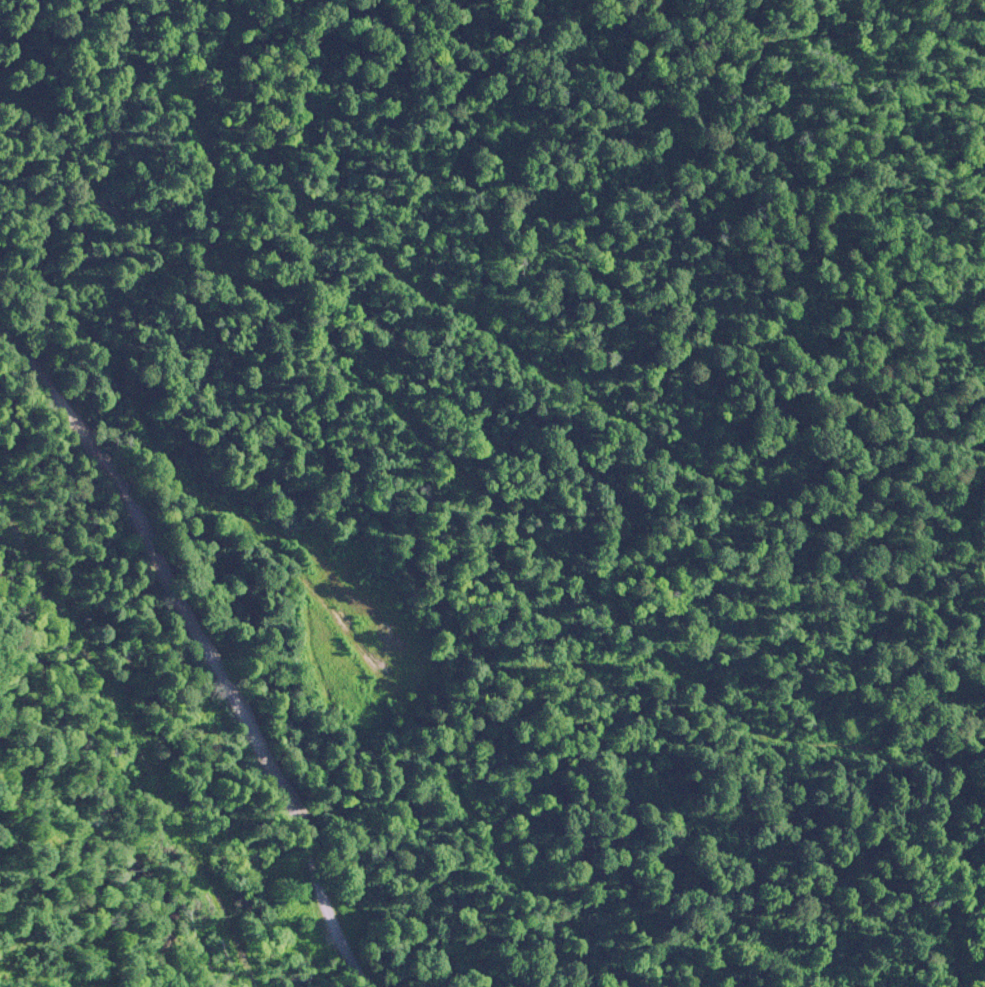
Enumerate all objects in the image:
road: (206, 641)
railway: (129, 744)

